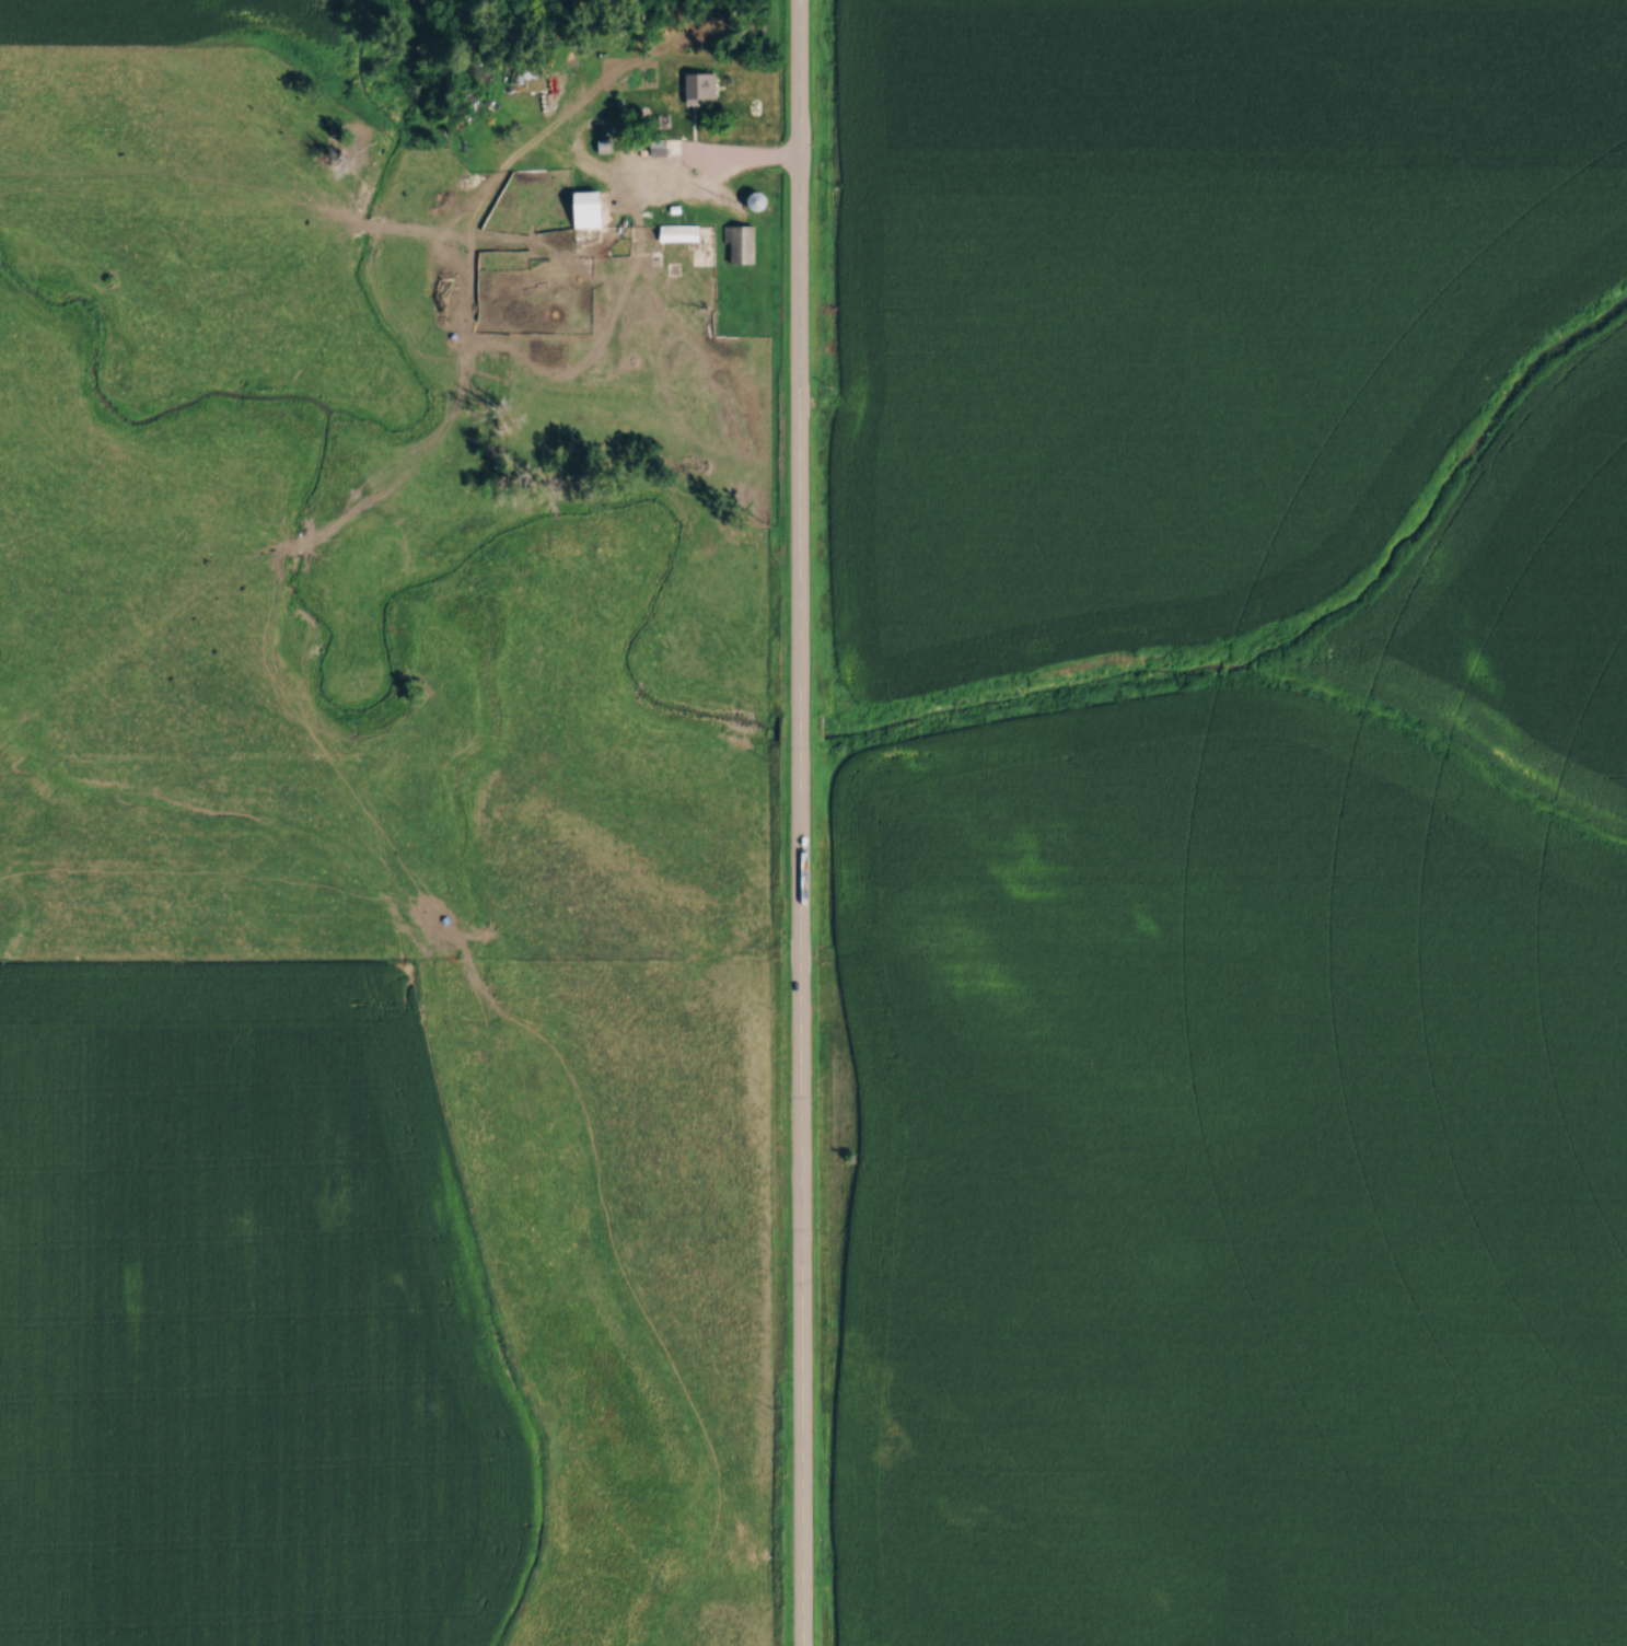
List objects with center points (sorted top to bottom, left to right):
building: (700, 88)
road: (718, 178)
building: (590, 212)
road: (799, 822)

